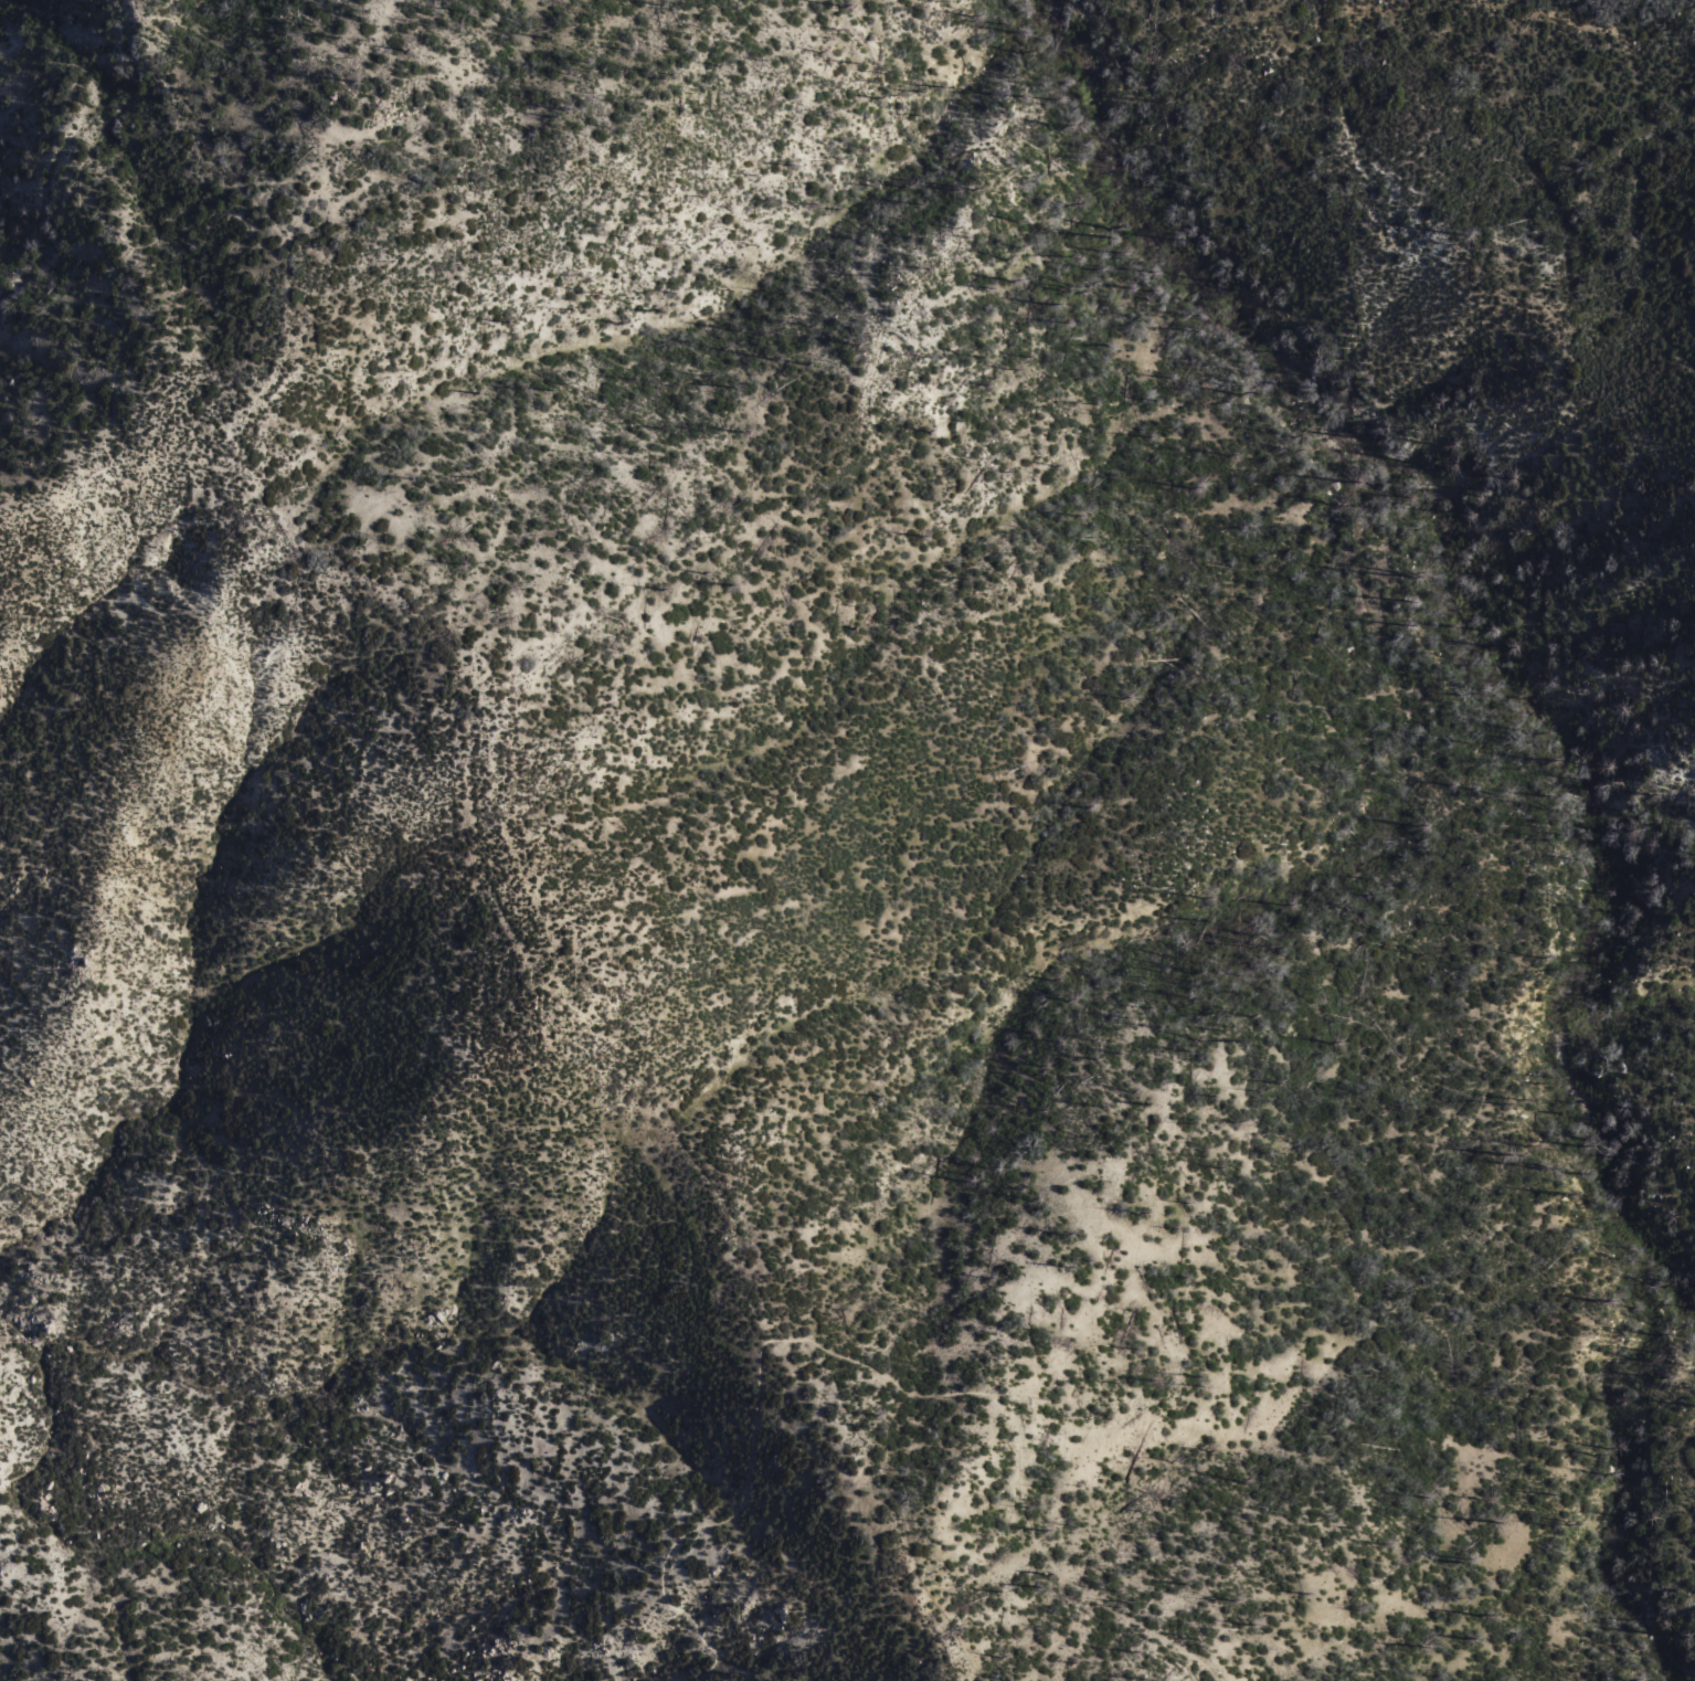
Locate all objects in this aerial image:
road: (868, 1370)

